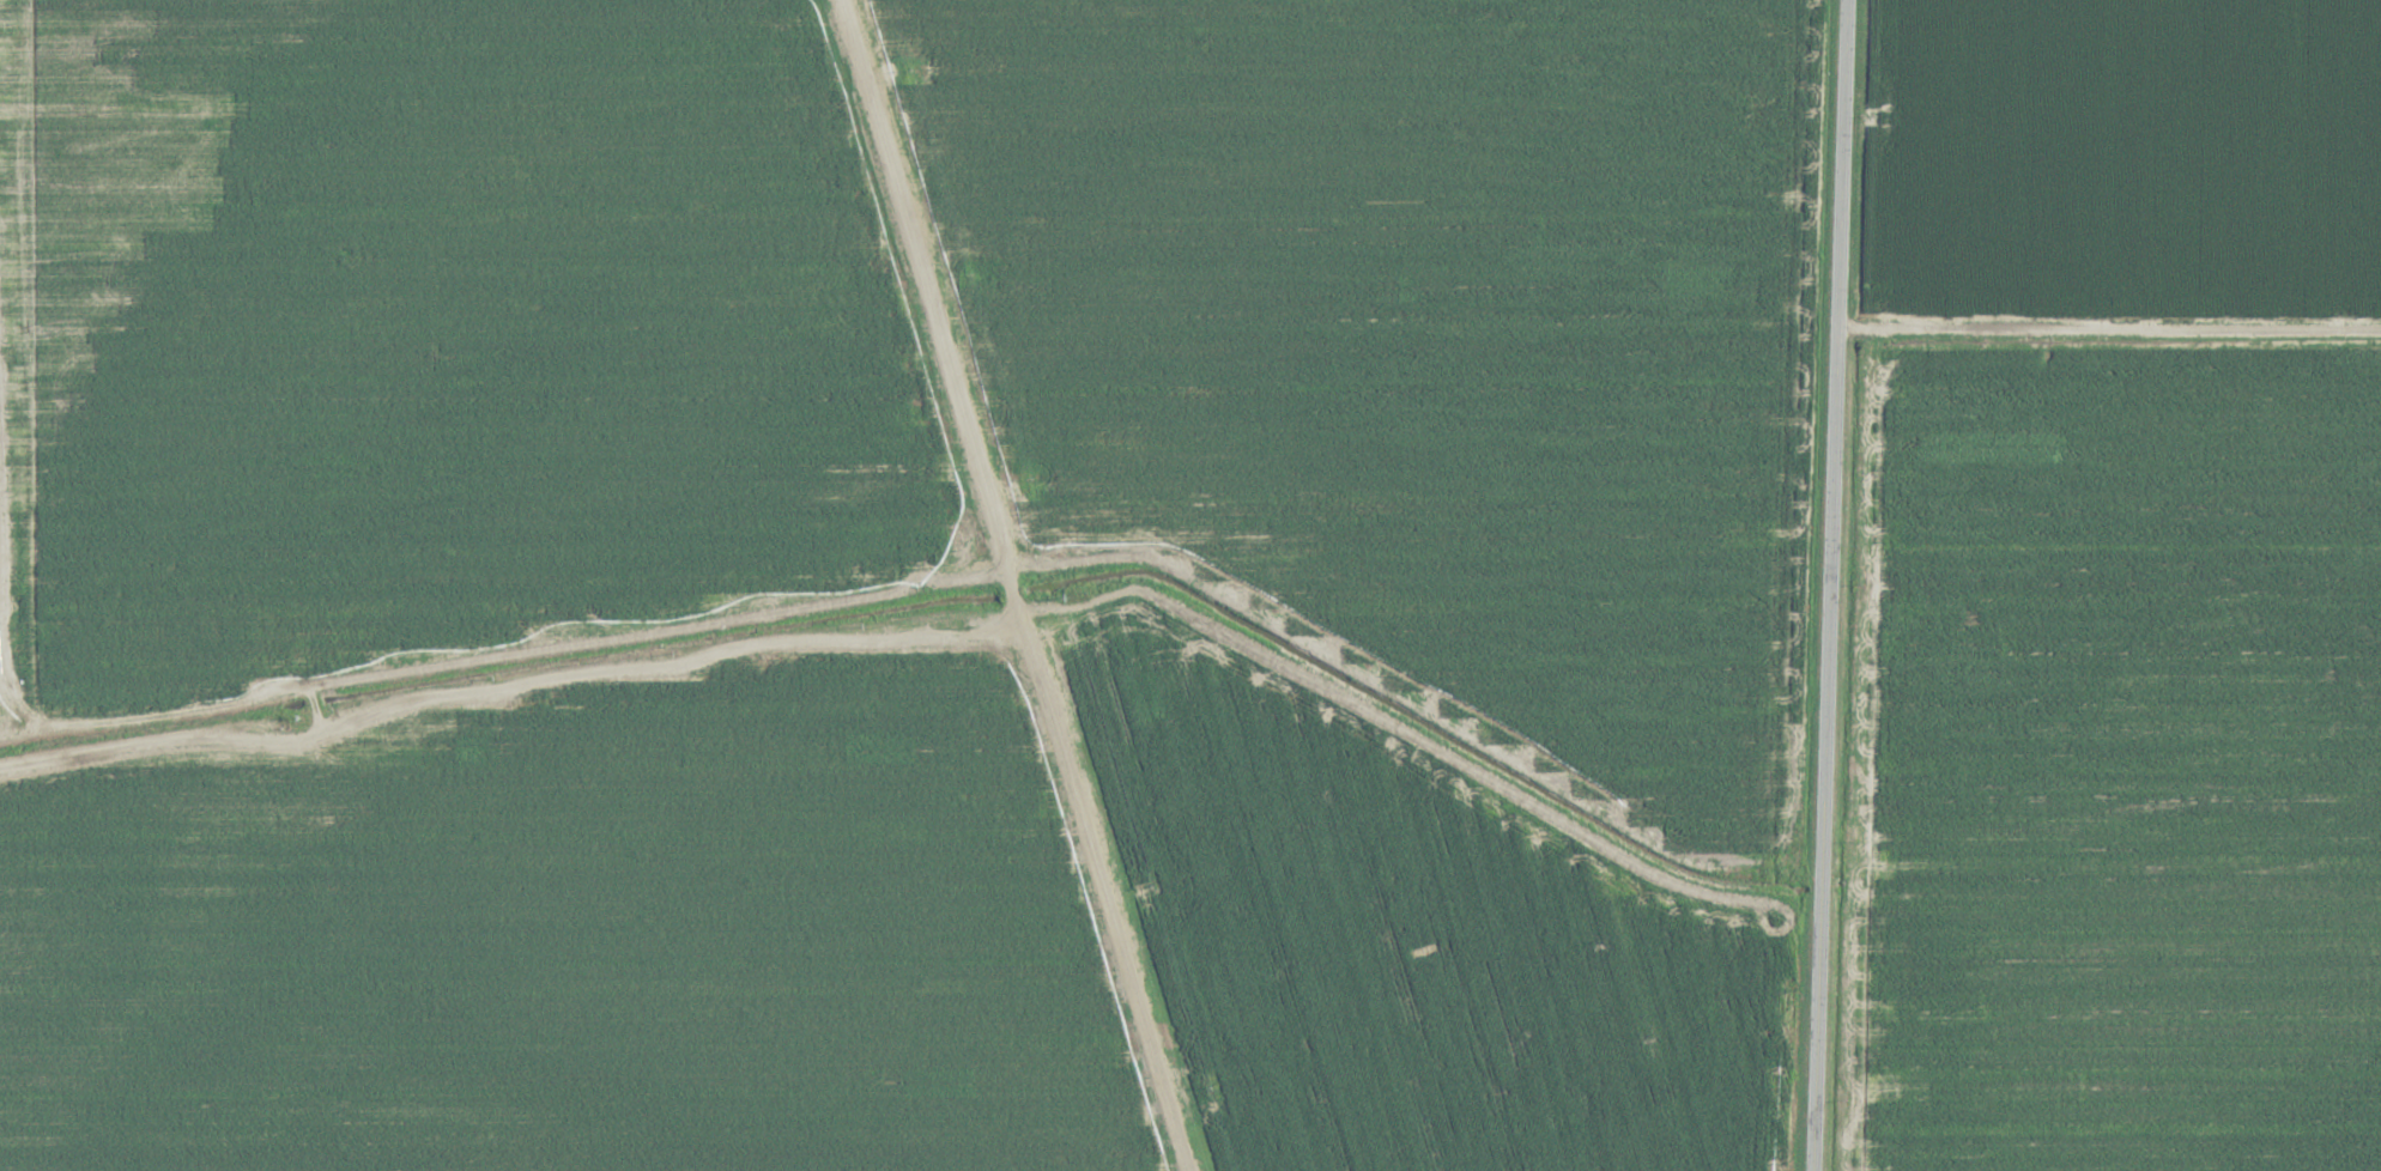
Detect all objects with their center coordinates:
road: (2108, 328)
road: (1829, 585)

